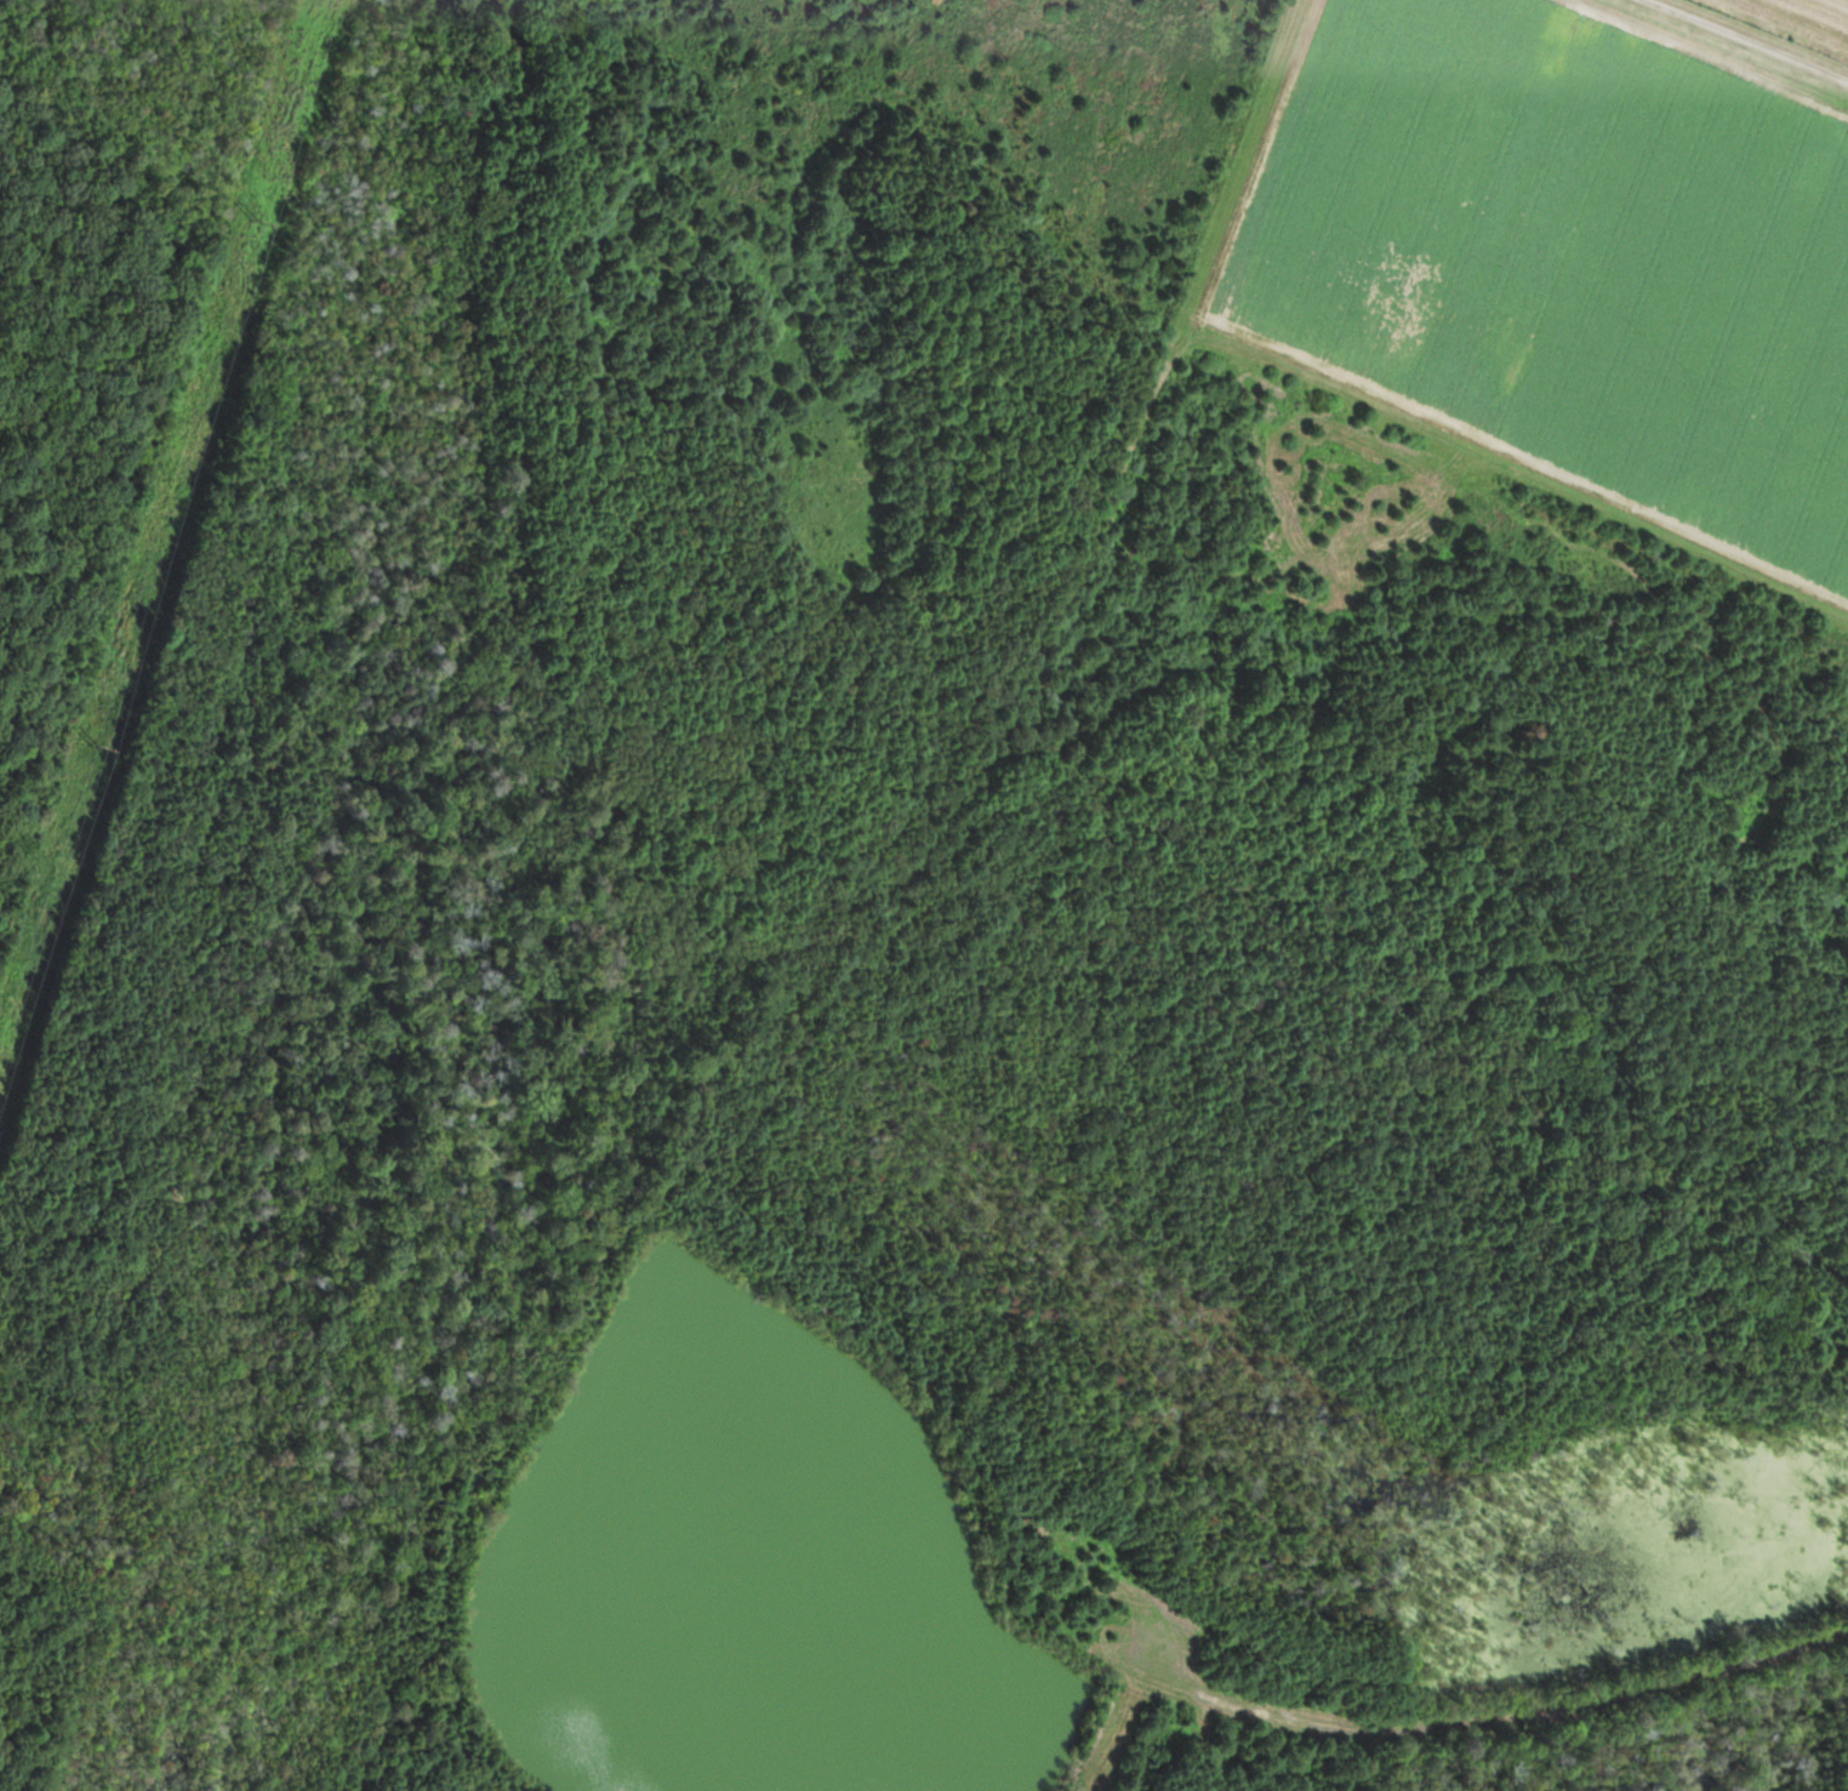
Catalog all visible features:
power tower: (253, 221)
power tower: (89, 749)

